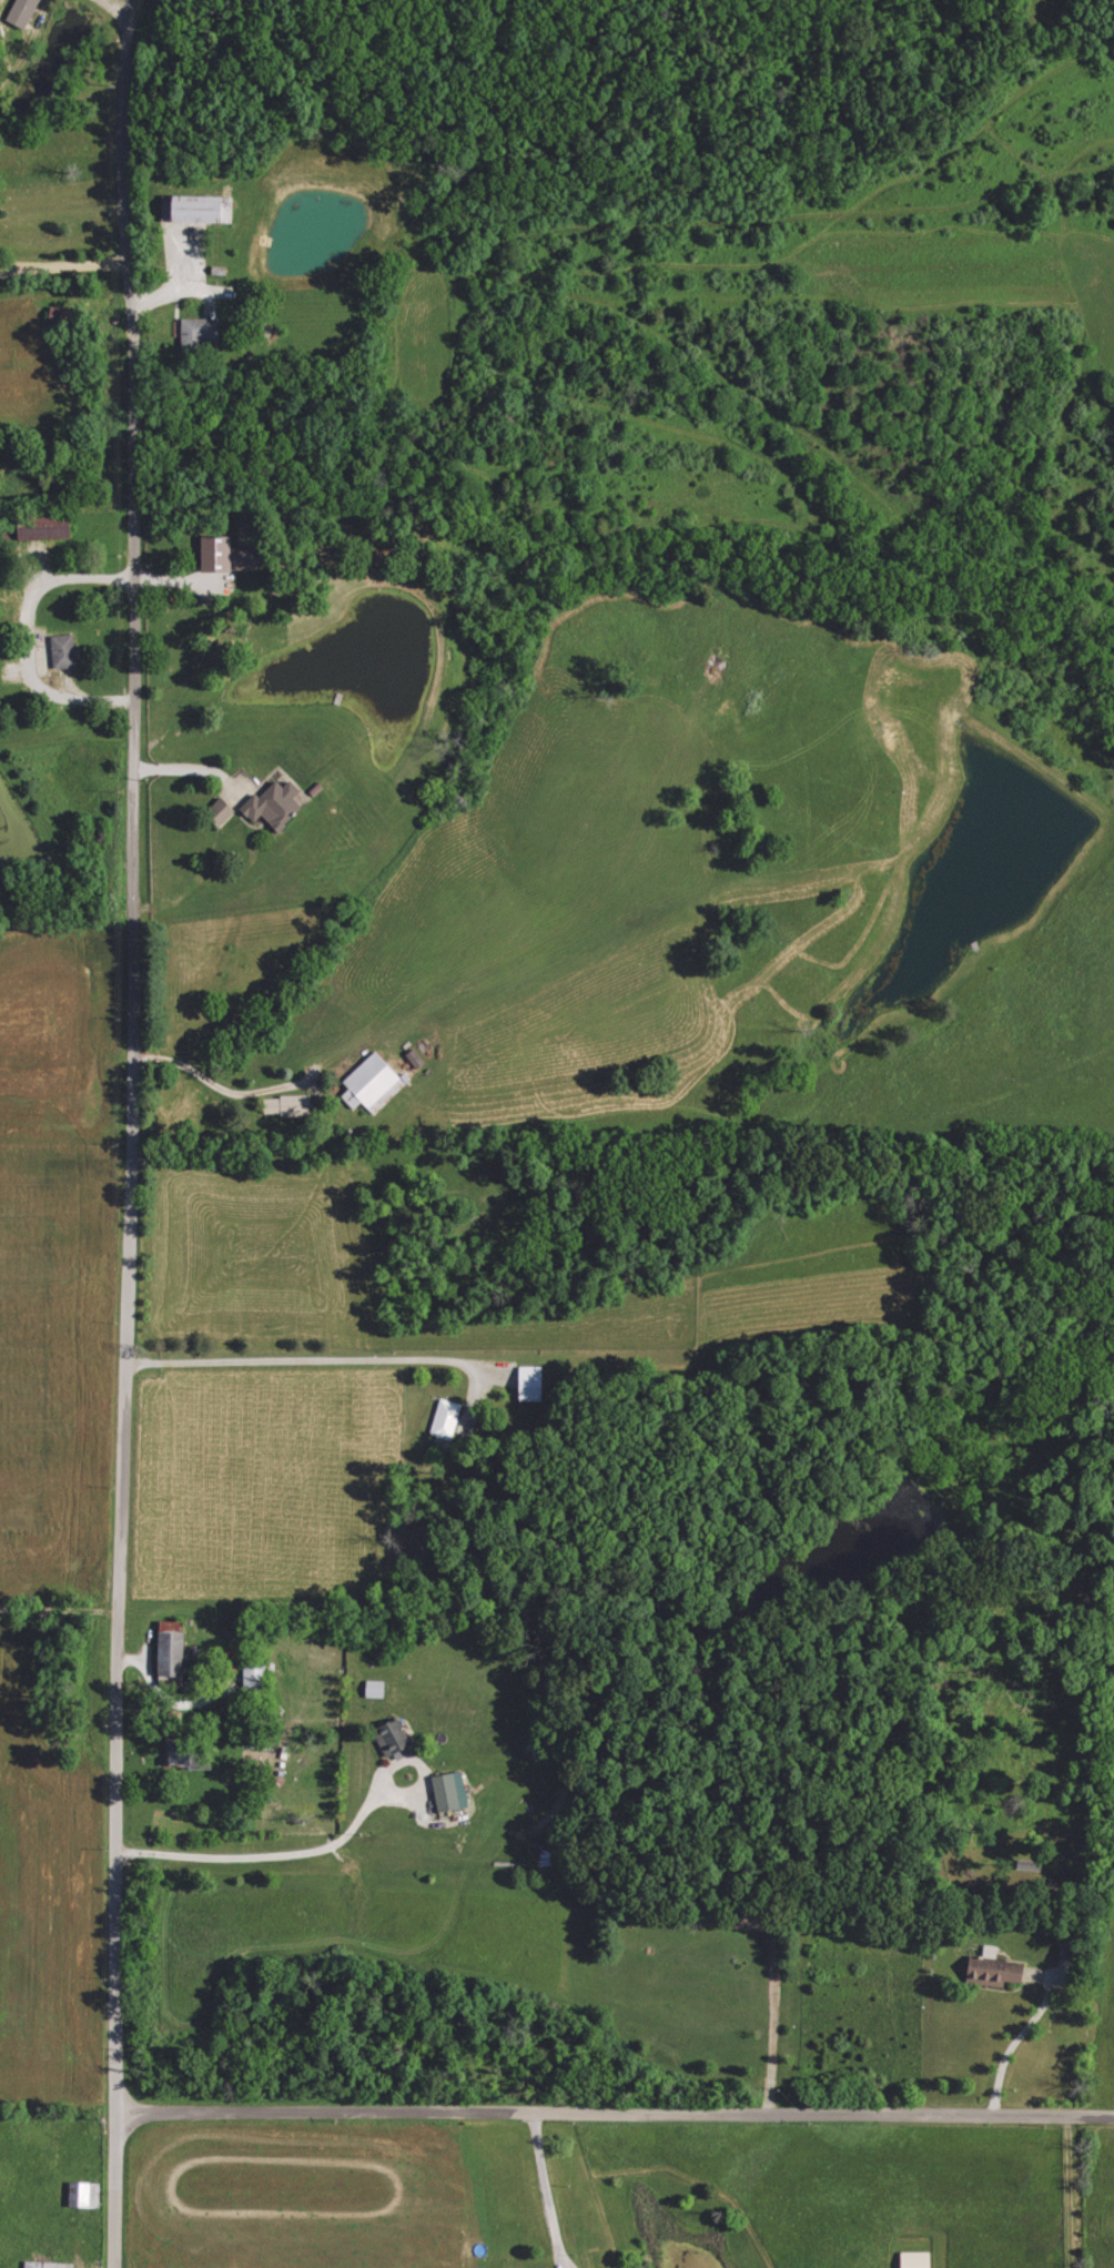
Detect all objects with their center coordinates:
building: (27, 12)
building: (205, 209)
road: (61, 269)
building: (201, 333)
building: (52, 528)
building: (231, 556)
building: (65, 651)
road: (189, 776)
building: (276, 804)
building: (418, 1060)
building: (375, 1083)
road: (216, 1090)
building: (291, 1106)
road: (128, 1133)
road: (325, 1357)
building: (534, 1384)
building: (447, 1419)
building: (174, 1654)
building: (396, 1740)
building: (185, 1755)
building: (453, 1792)
road: (326, 1847)
road: (772, 2019)
road: (1023, 2036)
road: (615, 2114)
road: (545, 2190)
road: (1071, 2191)
building: (87, 2195)
building: (920, 2259)
building: (51, 2265)

